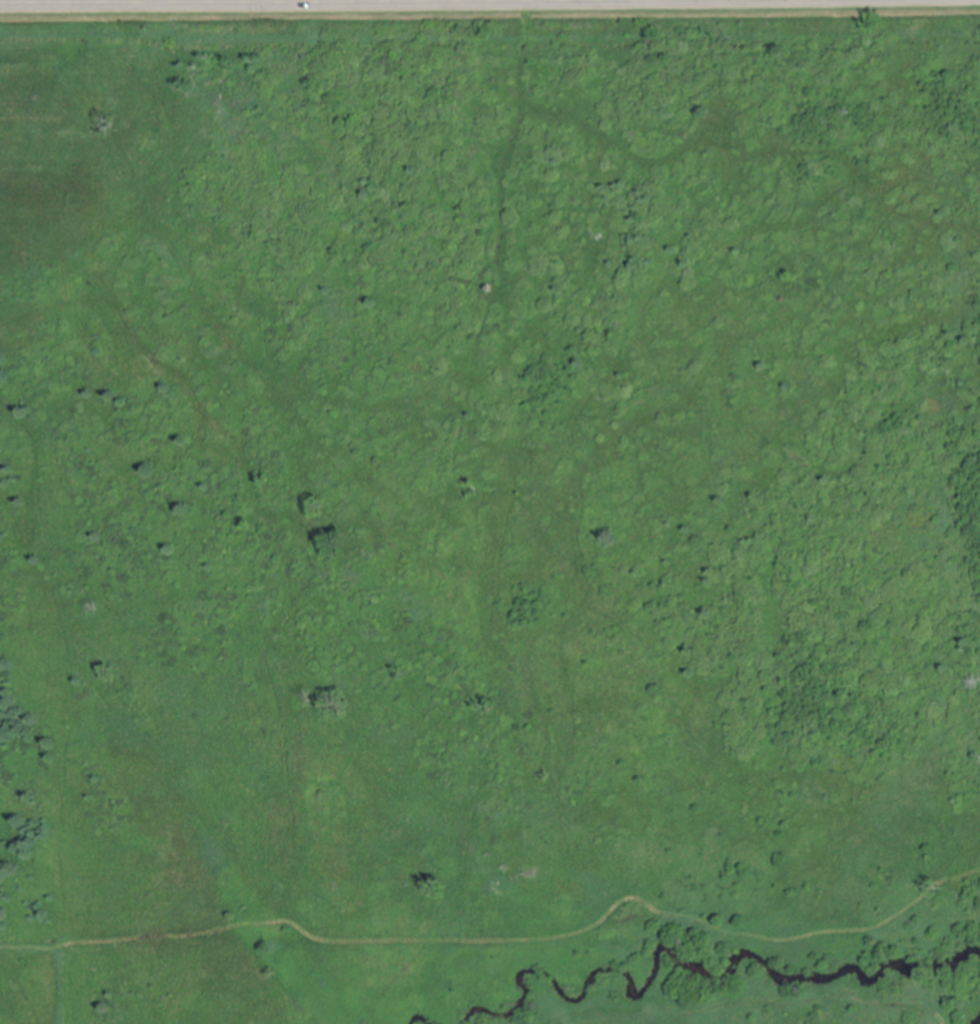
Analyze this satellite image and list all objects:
road: (363, 2)

